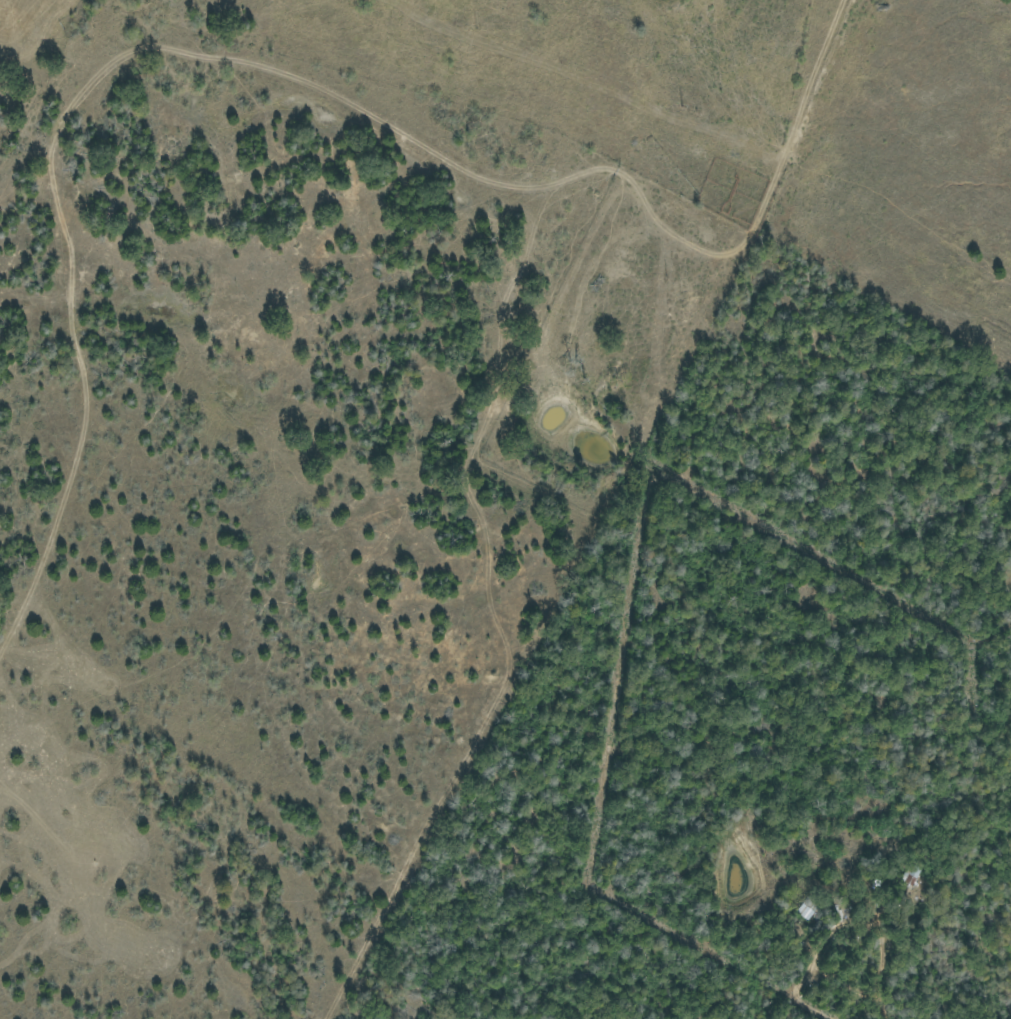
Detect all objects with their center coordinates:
road: (78, 390)
road: (413, 460)
building: (910, 875)
road: (886, 966)

